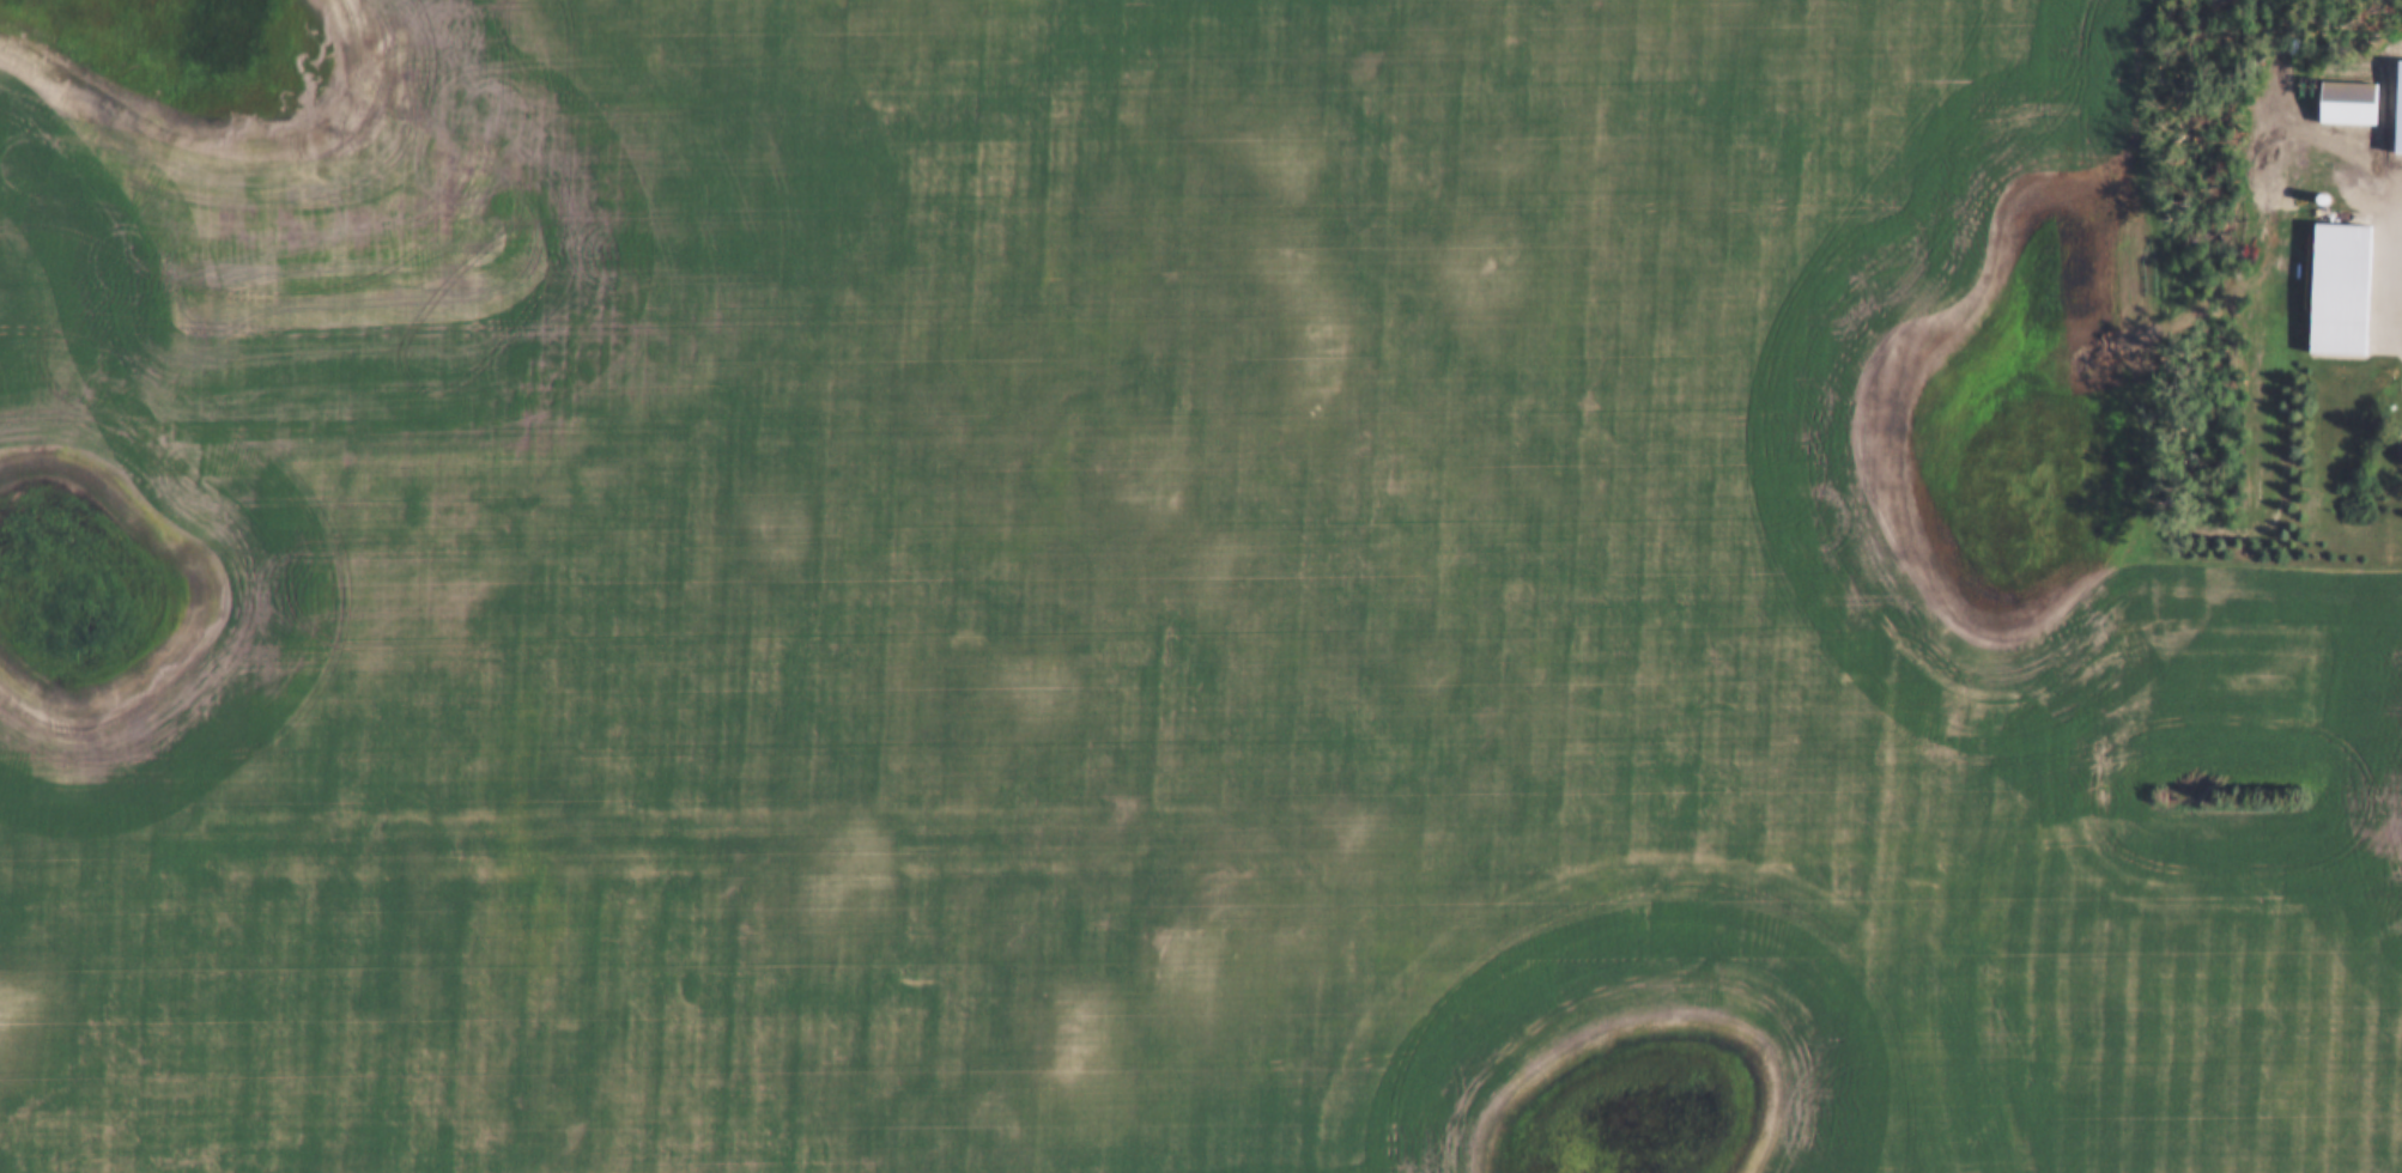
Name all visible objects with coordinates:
building: (2394, 144)
building: (2345, 302)

